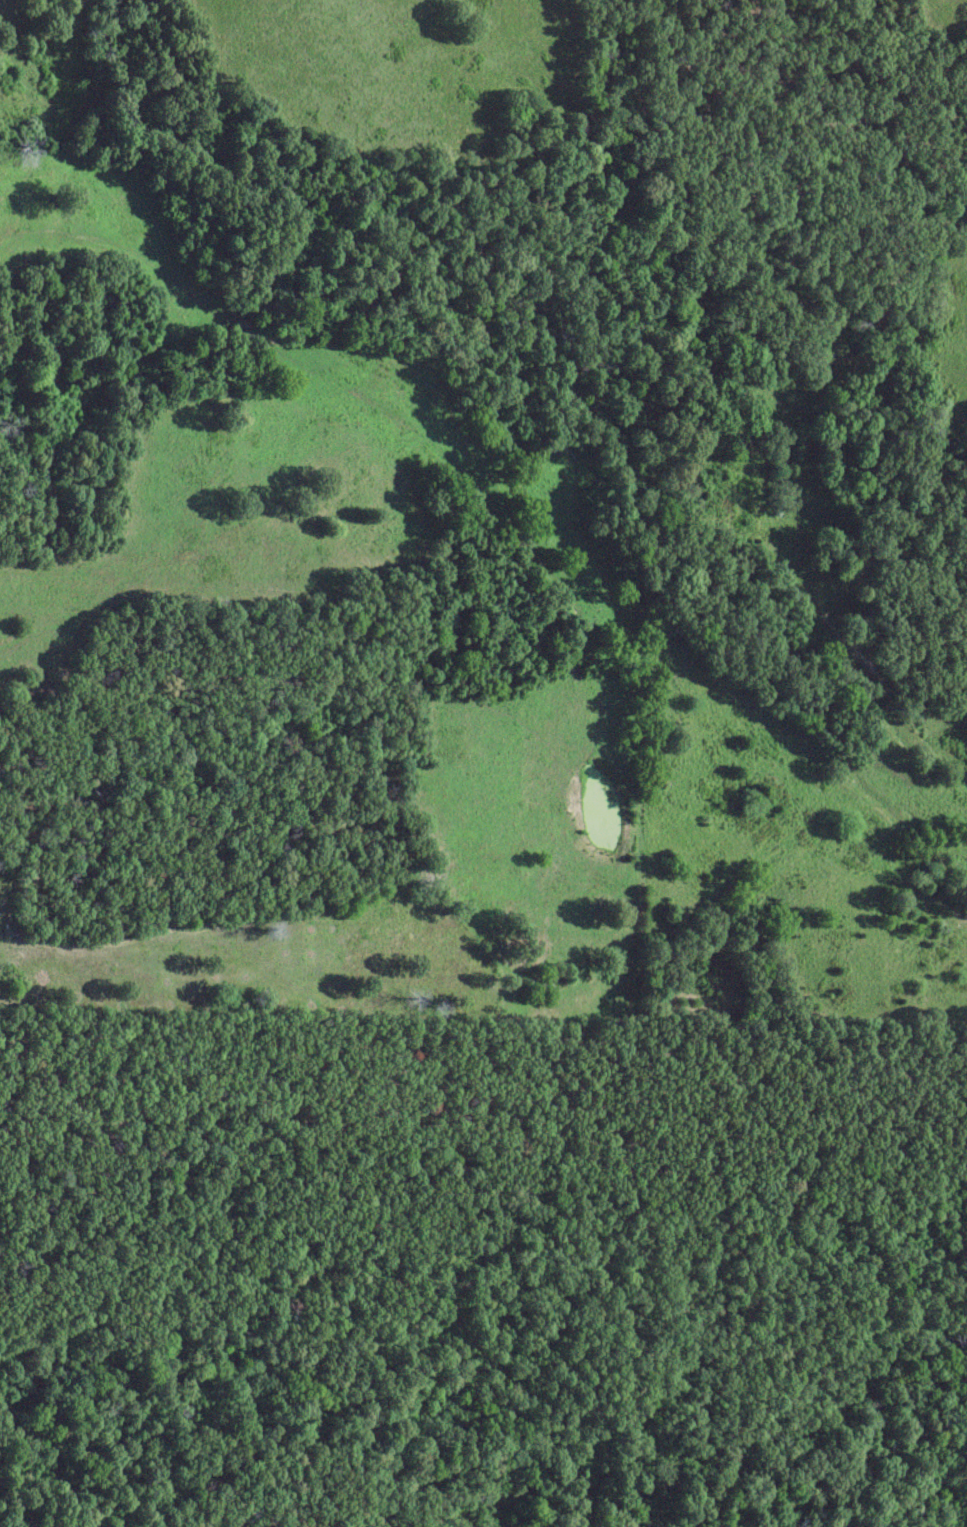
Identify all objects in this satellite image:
road: (768, 1407)

